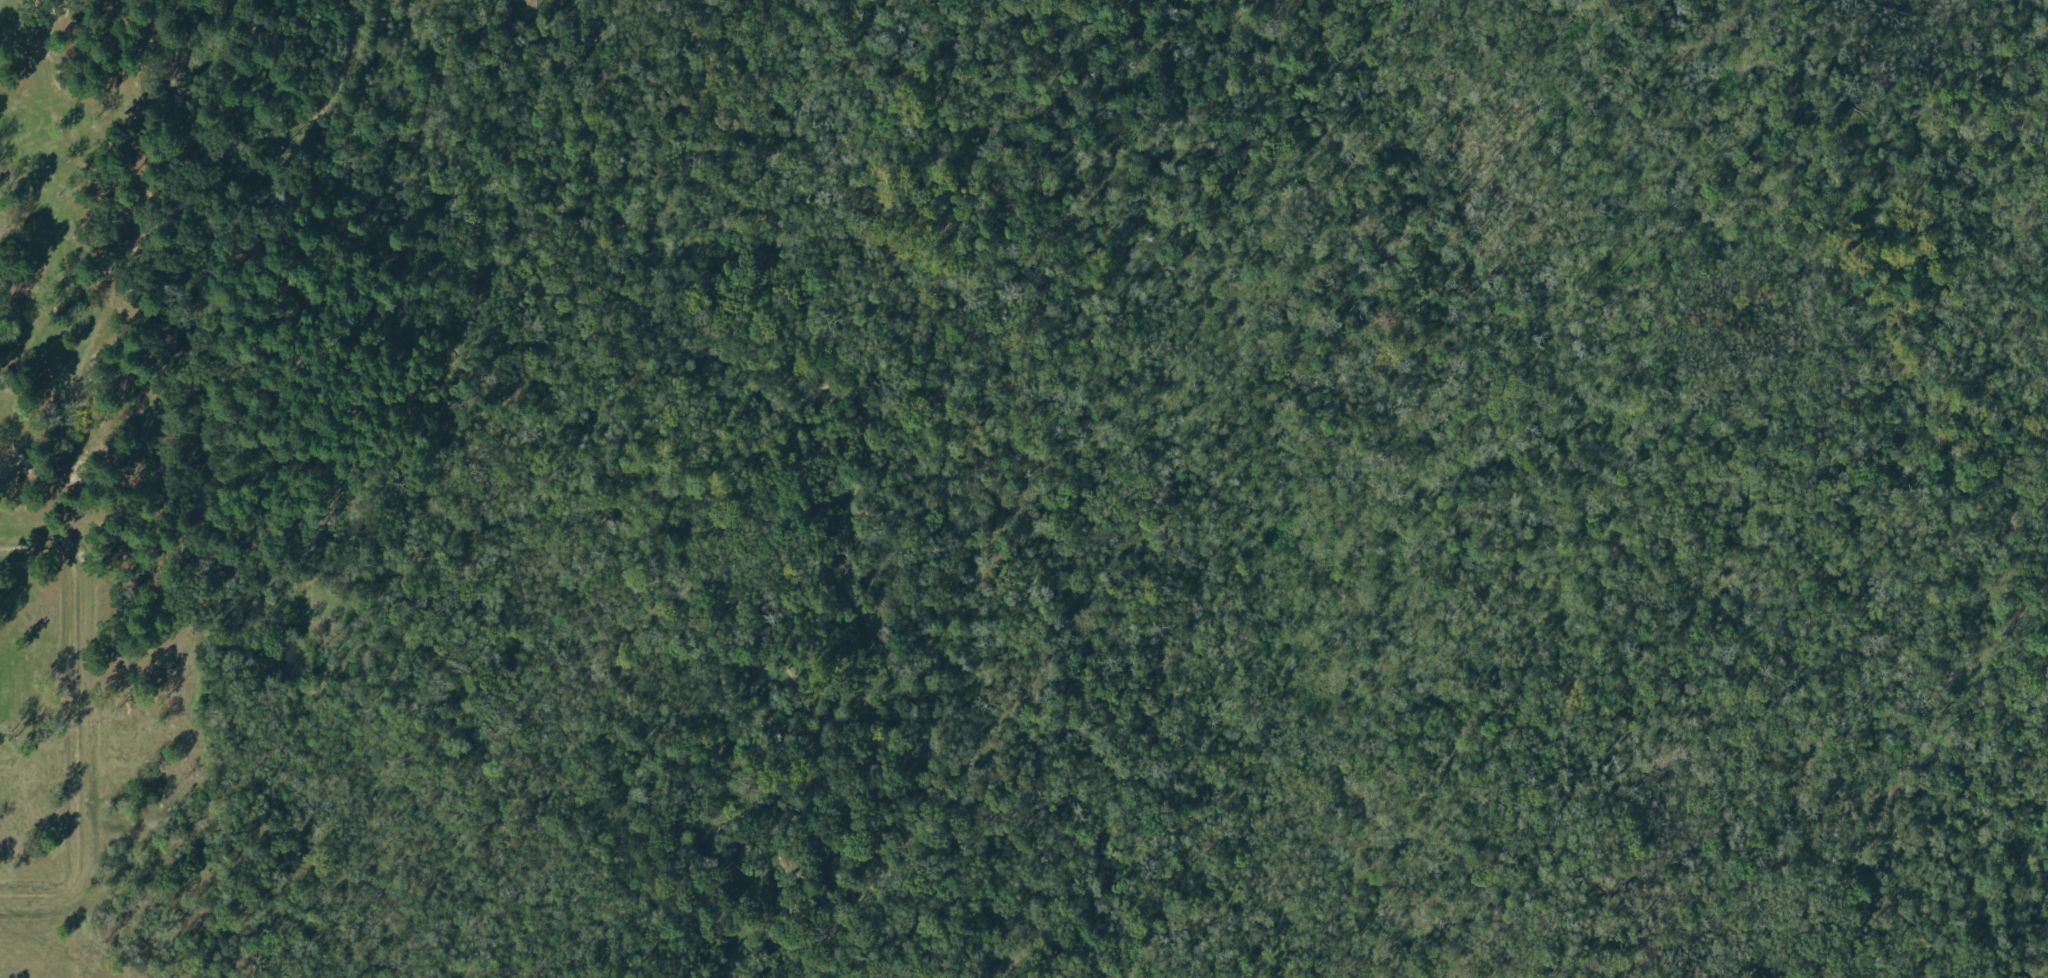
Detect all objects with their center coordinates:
road: (452, 350)
river: (874, 449)
park: (1024, 489)
road: (75, 717)

